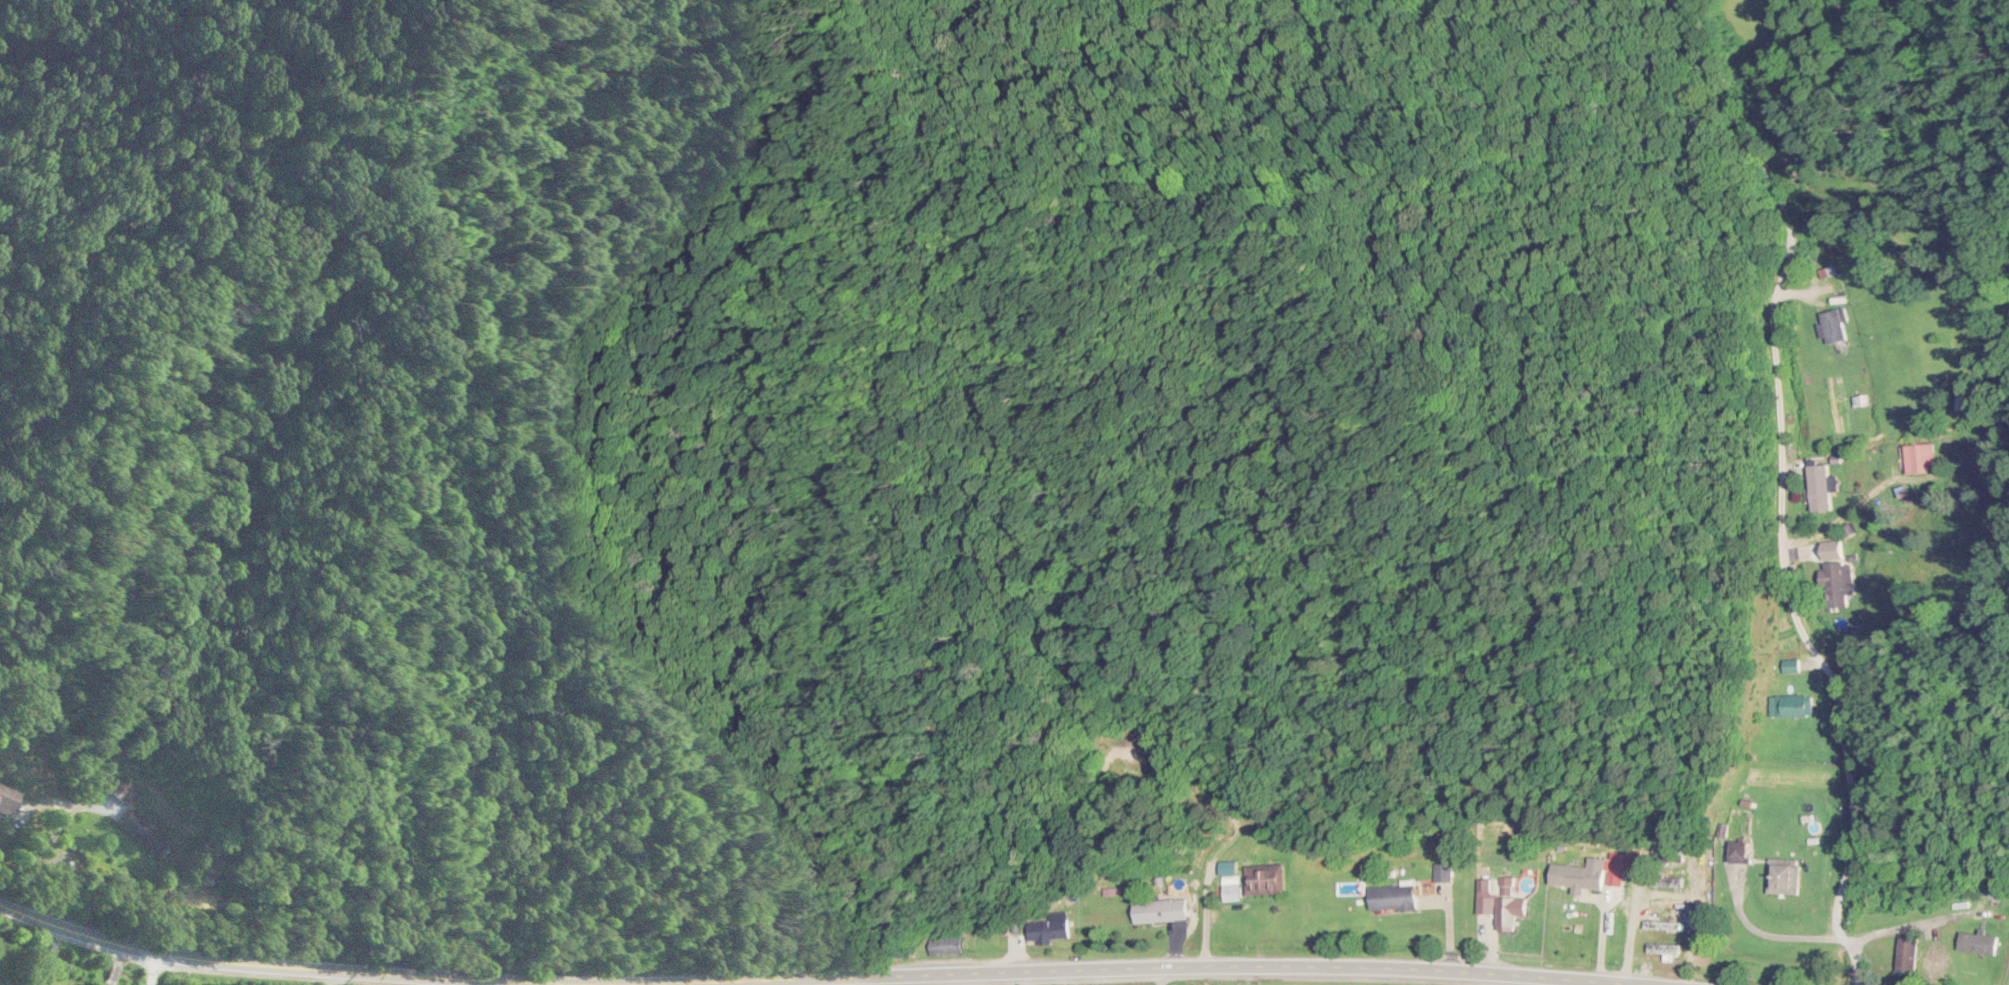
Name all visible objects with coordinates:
building: (1963, 404)
building: (1979, 450)
building: (1919, 458)
road: (1781, 488)
building: (1820, 488)
building: (1789, 708)
building: (122, 794)
building: (2, 802)
building: (138, 832)
building: (1633, 862)
building: (1601, 868)
building: (1783, 878)
building: (1264, 880)
building: (1564, 881)
building: (1666, 885)
building: (1391, 899)
building: (1158, 912)
building: (1508, 914)
building: (1662, 927)
building: (1047, 932)
building: (1977, 945)
building: (944, 948)
building: (1663, 950)
building: (1907, 956)
road: (227, 963)
road: (145, 971)
road: (1164, 971)

